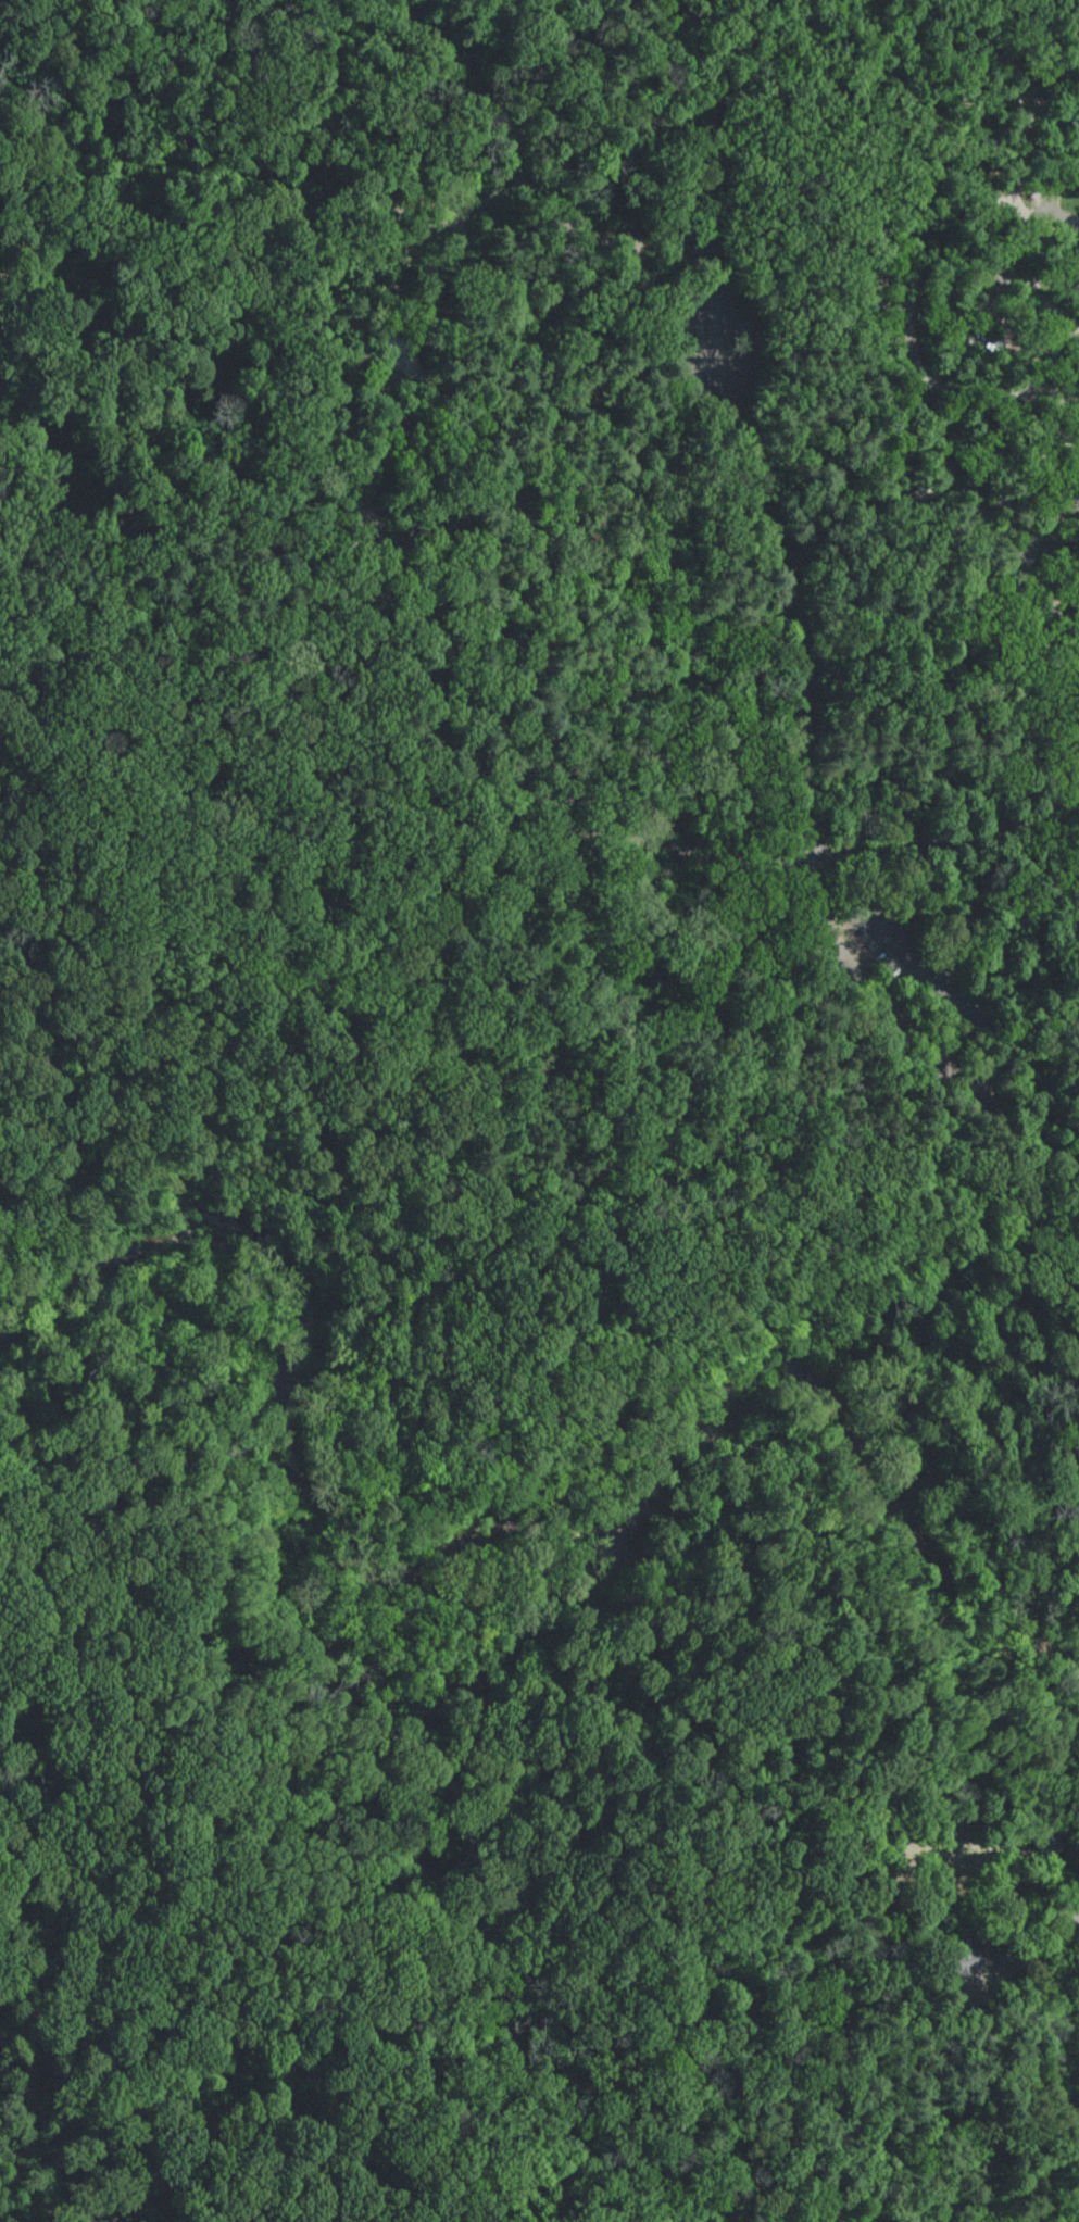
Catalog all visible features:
road: (877, 35)
road: (717, 50)
road: (1061, 217)
road: (1002, 272)
road: (916, 289)
road: (738, 335)
road: (754, 336)
road: (698, 344)
road: (680, 351)
road: (1026, 399)
road: (732, 400)
road: (1075, 498)
road: (176, 518)
road: (1051, 525)
building: (438, 527)
road: (624, 529)
road: (554, 612)
road: (409, 618)
road: (454, 781)
road: (946, 832)
parking lot: (928, 968)
road: (945, 990)
road: (900, 1008)
building: (881, 1014)
road: (879, 1029)
road: (1019, 1128)
road: (520, 1286)
road: (529, 1523)
road: (155, 1724)
road: (651, 1769)
building: (837, 1797)
building: (958, 1816)
building: (1042, 1840)
road: (906, 1851)
building: (823, 1870)
road: (966, 1890)
road: (1076, 1921)
building: (1002, 1953)
road: (371, 1955)
building: (961, 1958)
road: (335, 2009)
building: (940, 2012)
building: (824, 2193)
road: (60, 2211)

